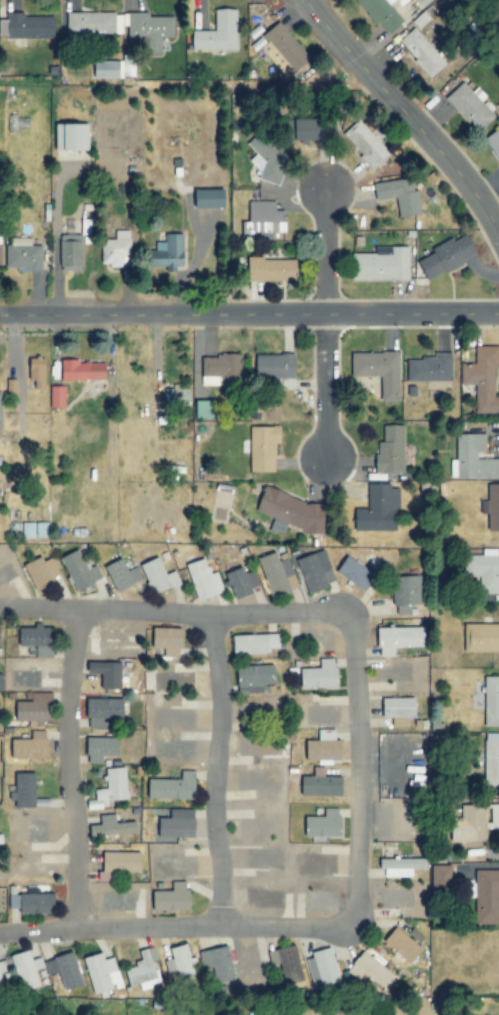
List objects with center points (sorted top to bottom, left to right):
road: (490, 9)
building: (382, 14)
building: (27, 26)
building: (120, 27)
building: (218, 32)
building: (287, 46)
building: (421, 52)
building: (115, 68)
building: (468, 106)
road: (404, 113)
building: (316, 129)
building: (73, 137)
building: (366, 144)
building: (269, 156)
building: (400, 195)
building: (211, 199)
building: (264, 220)
building: (116, 249)
building: (170, 252)
building: (71, 253)
building: (23, 255)
building: (449, 256)
building: (382, 264)
building: (270, 269)
road: (249, 315)
road: (326, 326)
building: (278, 368)
building: (429, 368)
building: (221, 370)
building: (83, 371)
building: (379, 371)
building: (39, 373)
building: (482, 378)
building: (171, 394)
building: (57, 396)
building: (204, 409)
building: (0, 411)
building: (264, 448)
building: (391, 450)
building: (474, 458)
building: (492, 507)
building: (378, 509)
building: (293, 511)
building: (484, 570)
building: (80, 571)
building: (316, 571)
building: (43, 572)
building: (356, 573)
building: (276, 574)
building: (123, 575)
building: (158, 576)
building: (204, 580)
building: (242, 582)
building: (406, 594)
building: (0, 637)
building: (482, 638)
building: (400, 639)
building: (37, 640)
building: (170, 641)
building: (254, 644)
building: (108, 674)
building: (320, 675)
building: (255, 677)
building: (492, 701)
building: (400, 707)
building: (33, 708)
building: (103, 712)
building: (32, 746)
building: (325, 748)
building: (102, 749)
building: (491, 760)
road: (71, 770)
road: (216, 770)
road: (359, 773)
building: (113, 785)
building: (322, 786)
building: (174, 788)
building: (25, 790)
building: (494, 816)
building: (177, 824)
building: (324, 824)
building: (471, 825)
building: (113, 826)
building: (119, 864)
building: (401, 867)
building: (442, 877)
building: (484, 897)
building: (172, 898)
building: (403, 945)
building: (217, 962)
building: (287, 965)
building: (323, 968)
building: (373, 969)
building: (26, 970)
building: (65, 970)
building: (2, 971)
building: (143, 971)
building: (101, 974)

